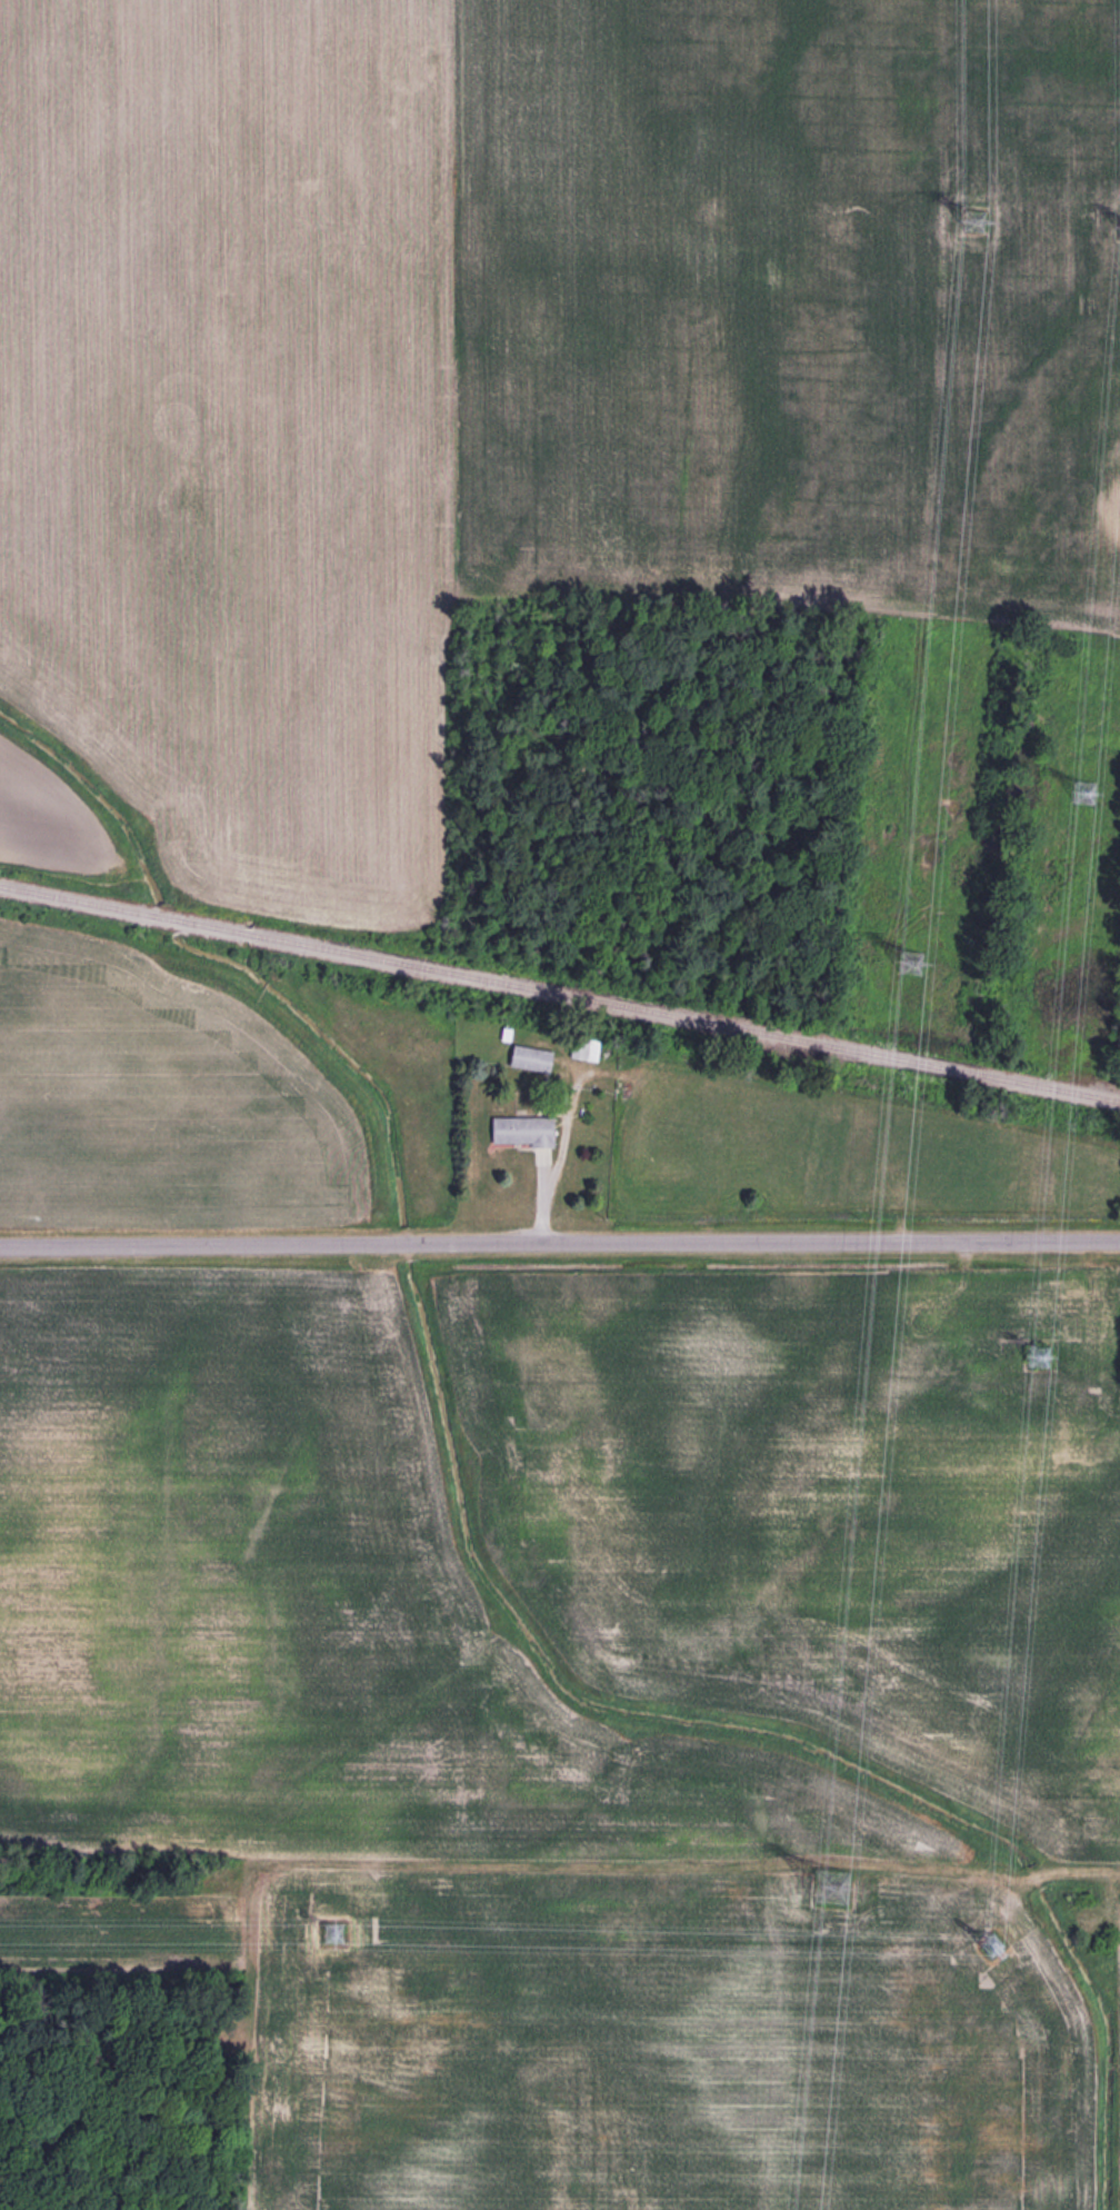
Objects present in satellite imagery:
power tower: (970, 222)
power tower: (1084, 787)
power tower: (907, 964)
railway: (560, 993)
building: (529, 1058)
building: (519, 1131)
road: (560, 1246)
power tower: (1030, 1355)
road: (691, 1868)
power tower: (826, 1887)
power tower: (330, 1935)
power tower: (977, 1951)

